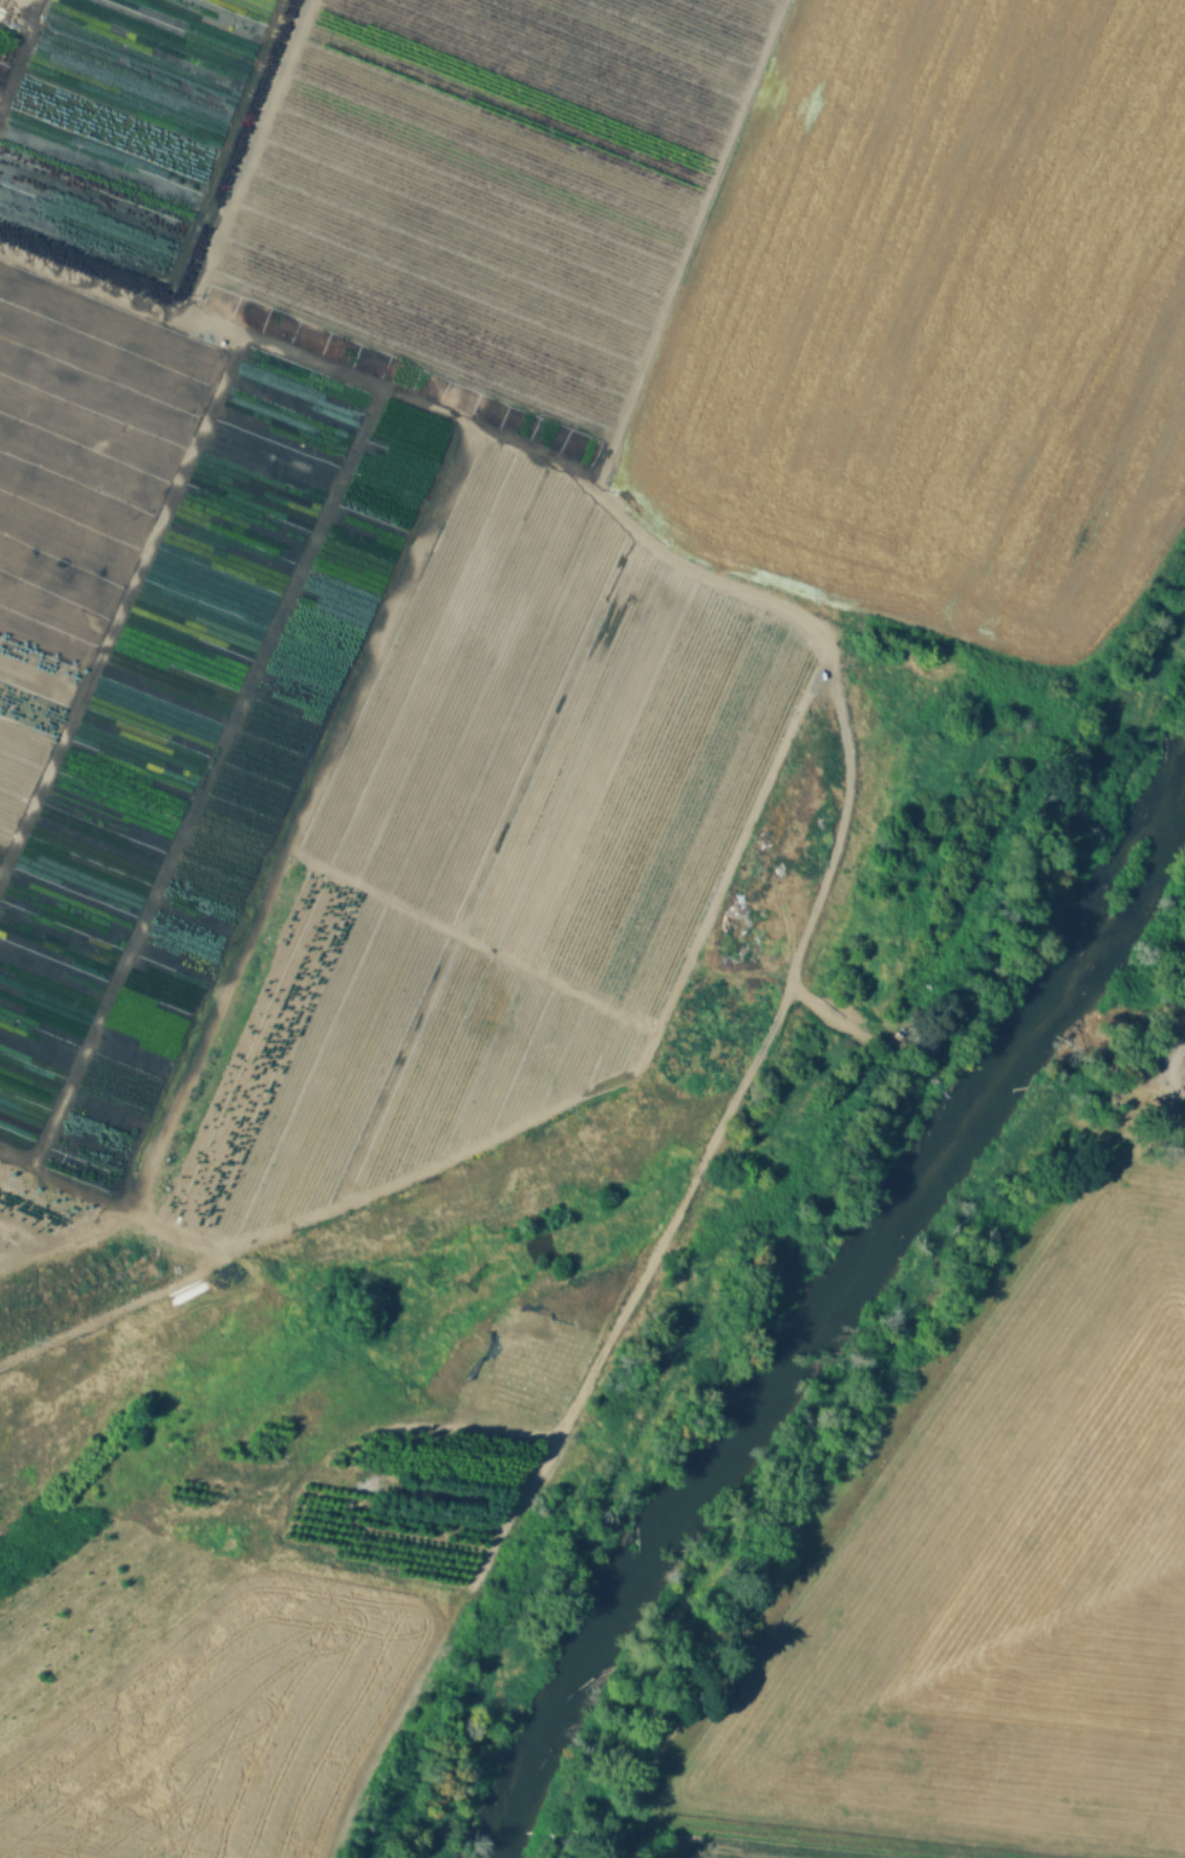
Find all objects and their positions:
road: (21, 54)
road: (206, 249)
crop: (851, 304)
crop: (1087, 353)
road: (118, 608)
road: (203, 780)
road: (843, 795)
road: (272, 875)
road: (469, 940)
crop: (1174, 1061)
road: (518, 1121)
road: (162, 1225)
river: (827, 1300)
crop: (1006, 1577)
crop: (195, 1690)
crop: (775, 1847)

